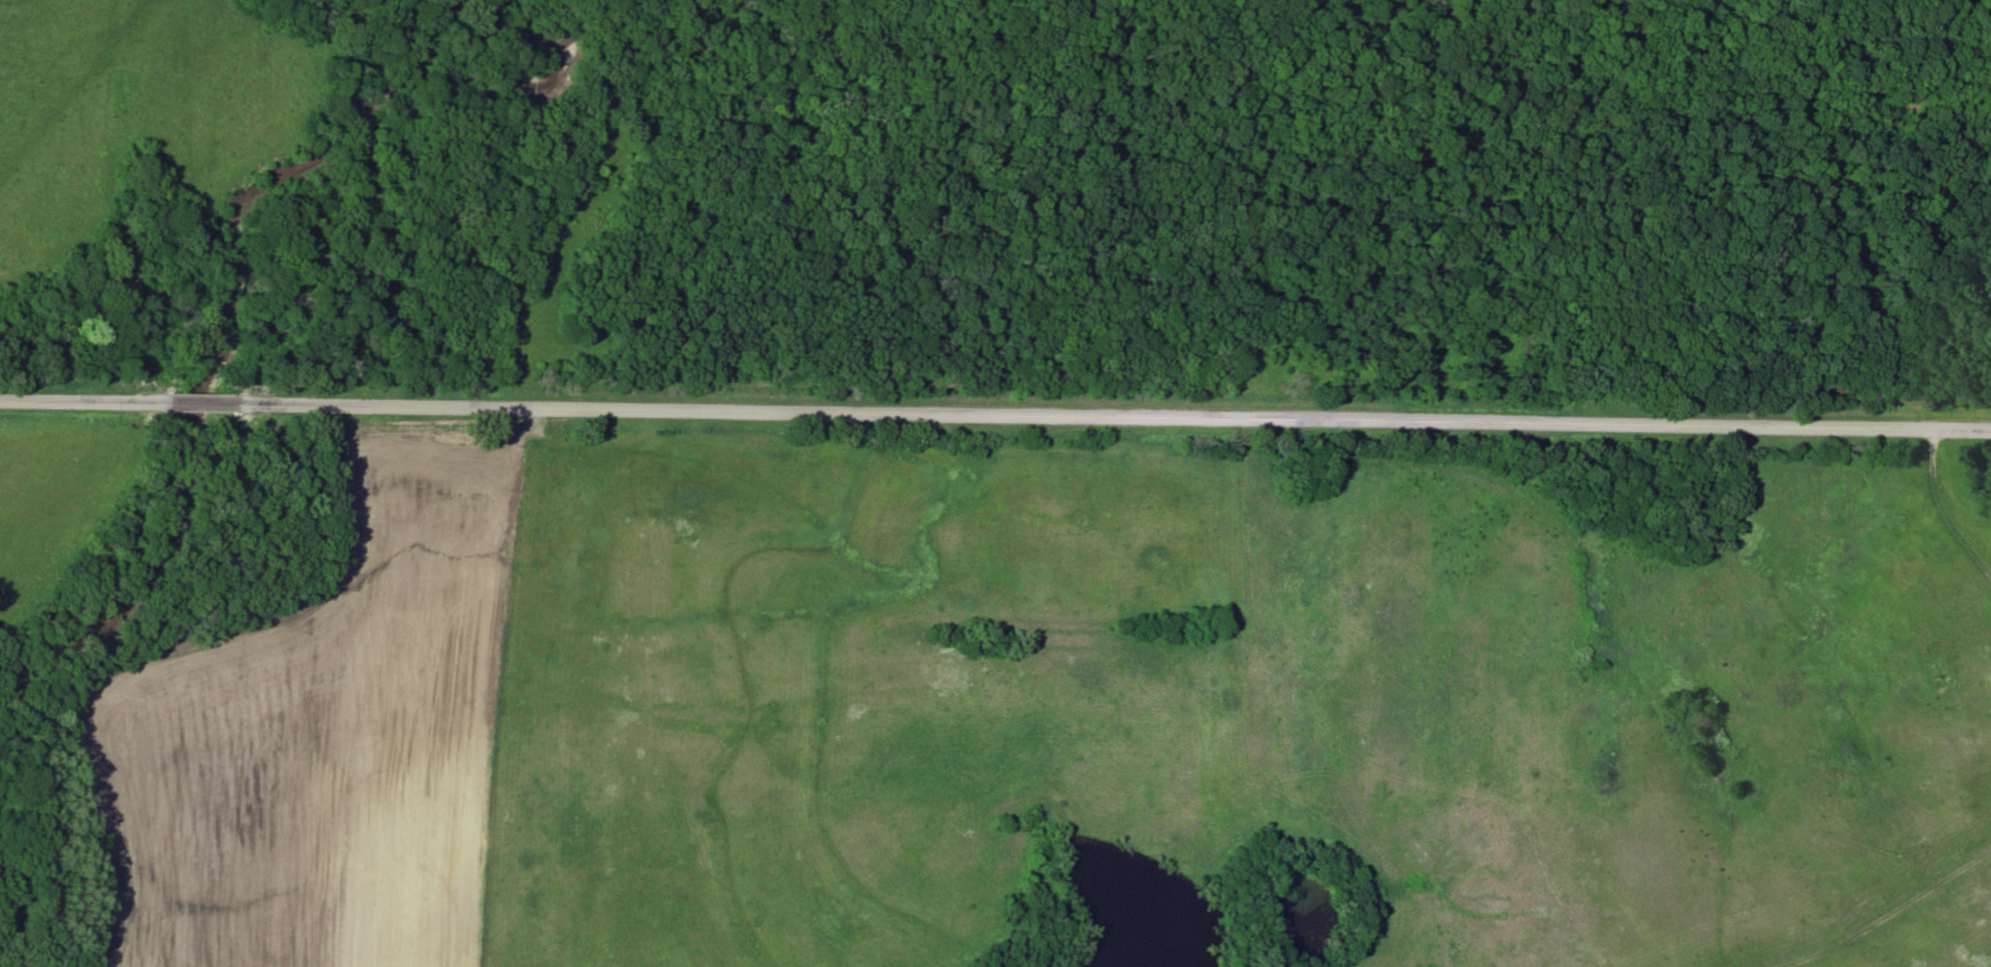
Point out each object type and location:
road: (101, 401)
road: (1097, 419)

